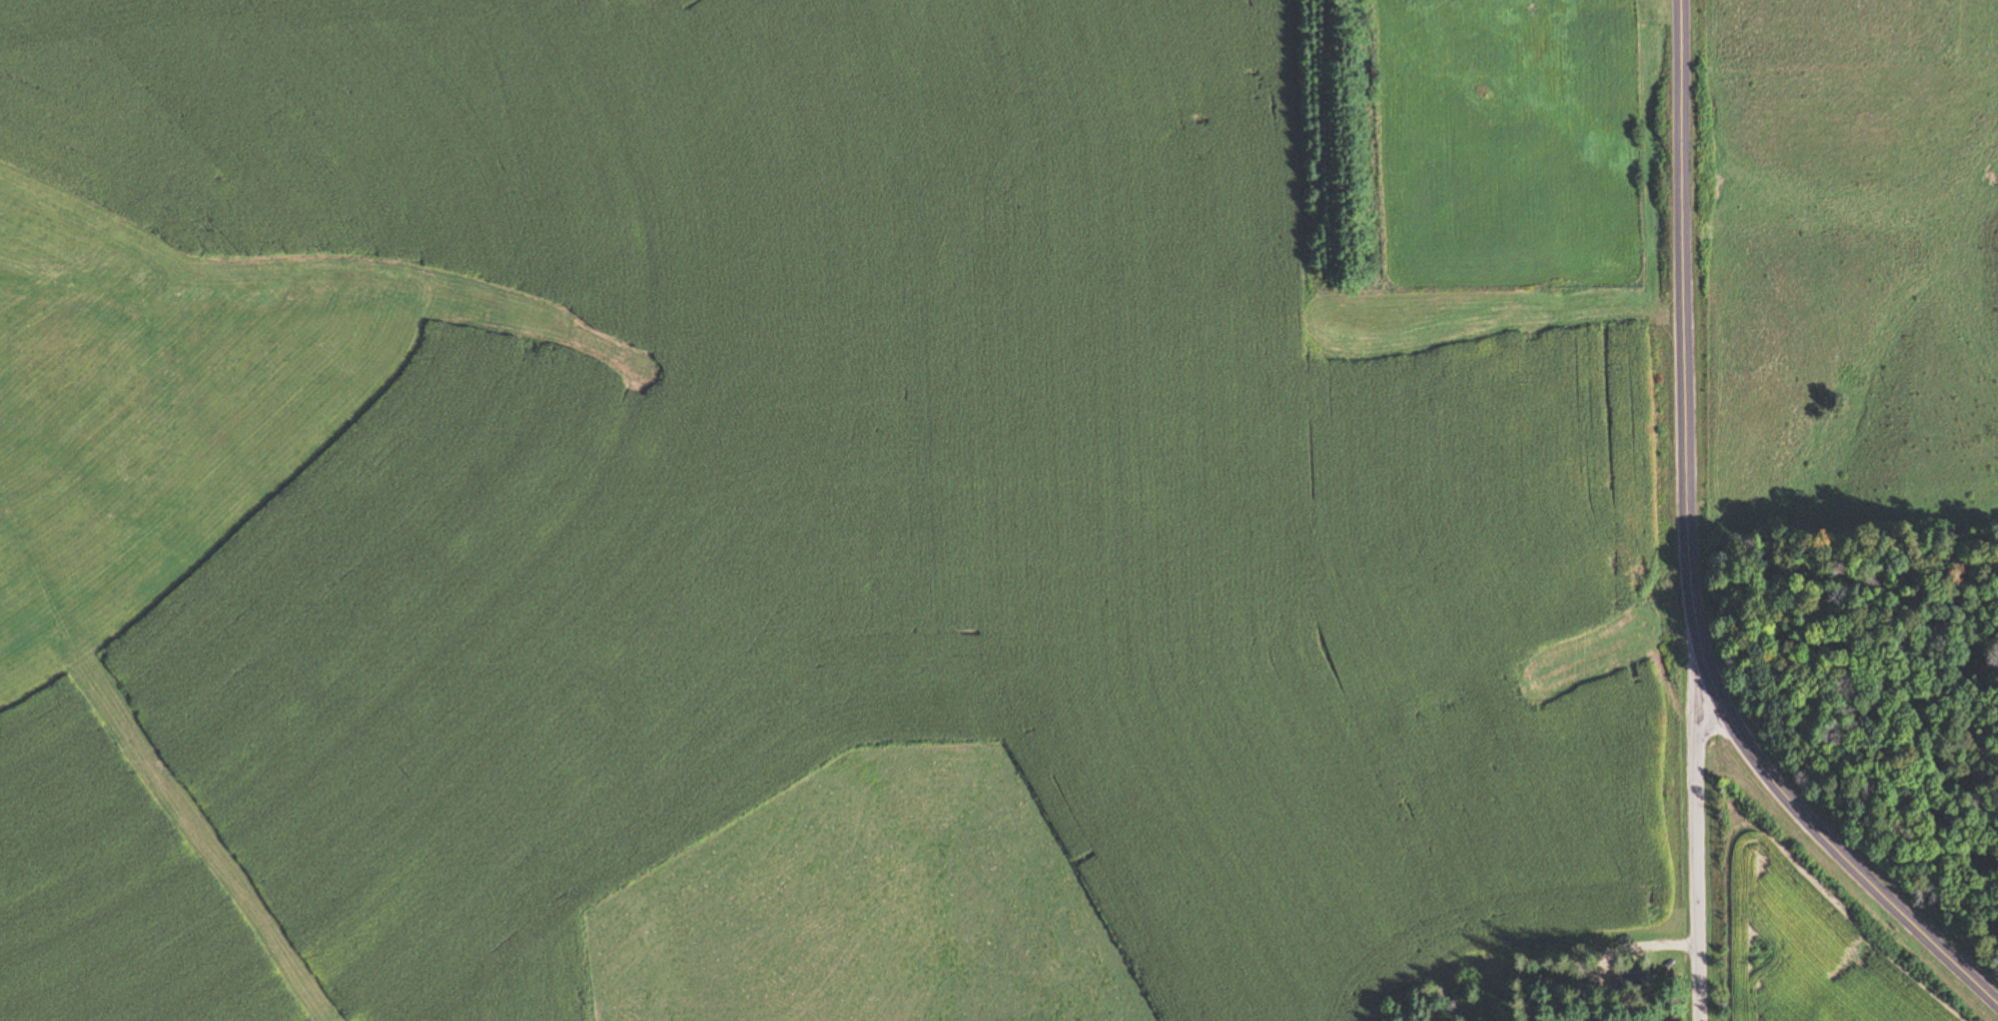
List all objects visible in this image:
road: (1689, 562)
road: (1695, 839)
crop: (1807, 948)

